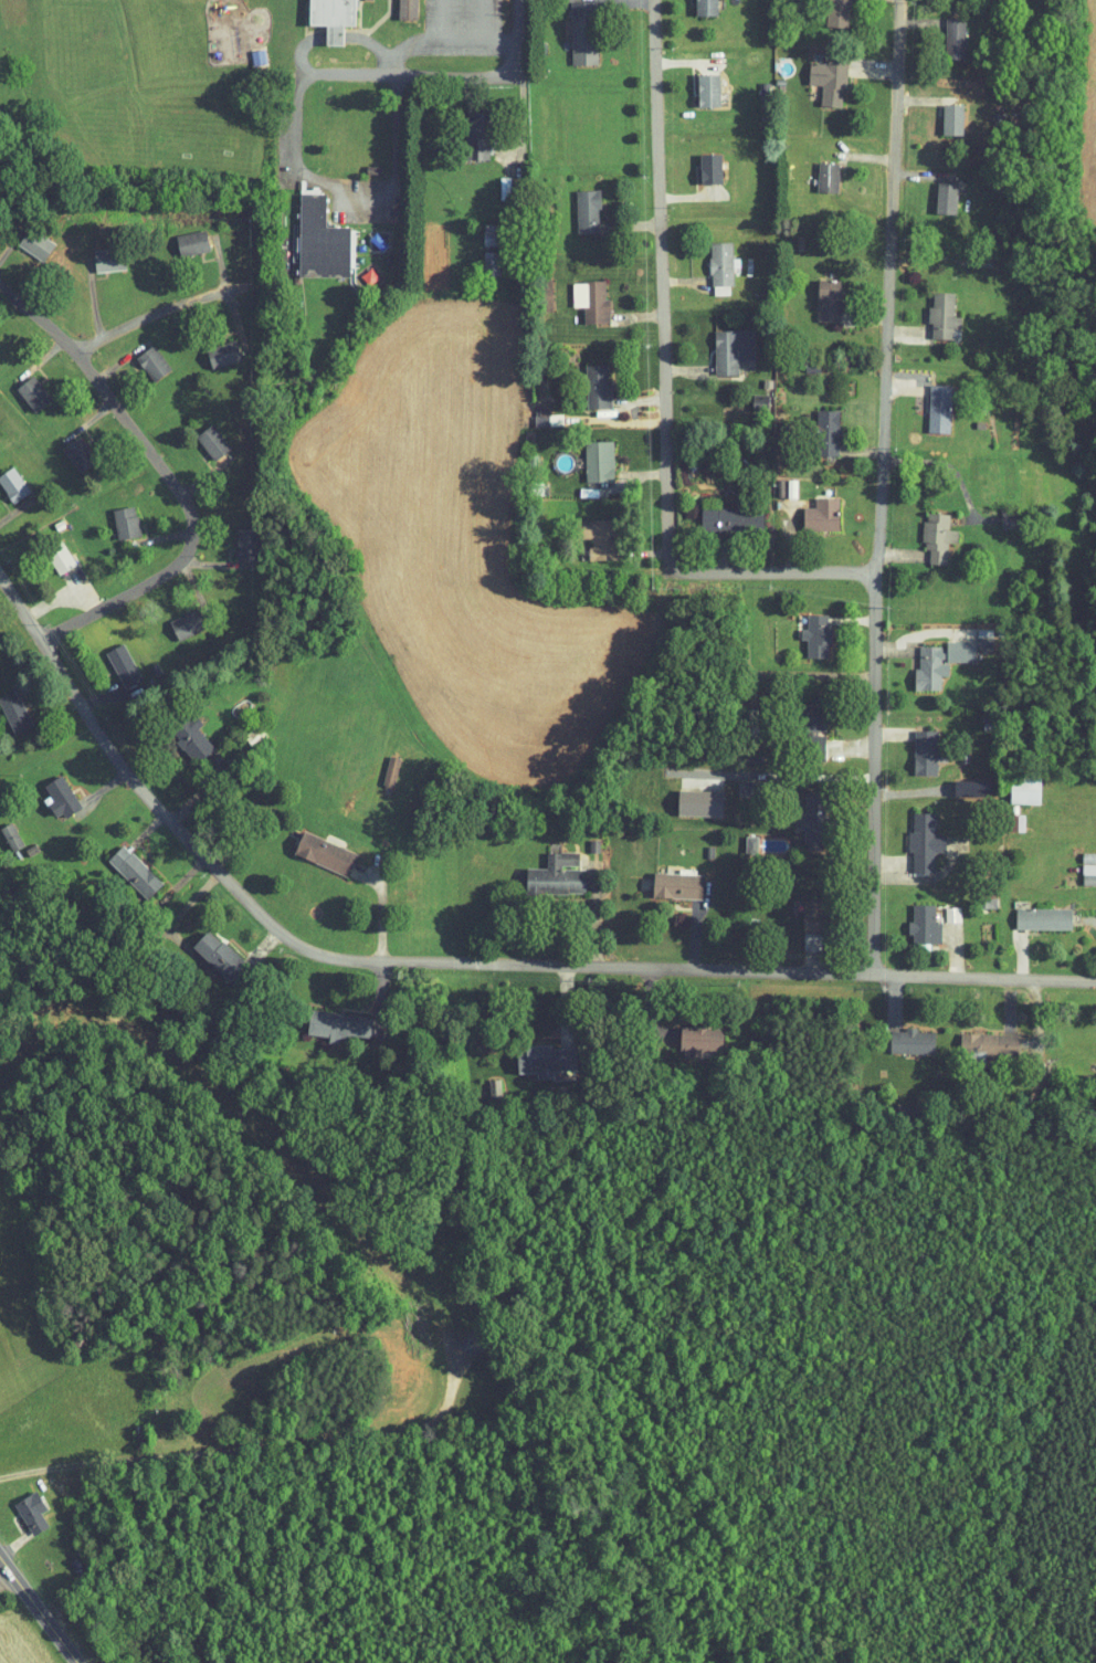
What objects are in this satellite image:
building: (695, 3)
building: (396, 6)
building: (826, 10)
road: (482, 18)
building: (336, 19)
road: (443, 19)
parking lot: (463, 25)
building: (571, 28)
building: (942, 31)
road: (335, 35)
road: (444, 36)
road: (516, 36)
building: (818, 73)
road: (455, 74)
building: (697, 84)
building: (940, 113)
building: (465, 129)
parking lot: (286, 148)
building: (699, 162)
building: (815, 170)
road: (315, 178)
building: (935, 191)
parking lot: (360, 201)
building: (576, 204)
building: (478, 228)
building: (180, 235)
building: (23, 238)
building: (324, 241)
building: (96, 253)
building: (481, 256)
building: (708, 262)
road: (876, 287)
building: (818, 294)
building: (579, 295)
building: (930, 308)
road: (162, 312)
building: (720, 344)
building: (211, 347)
building: (140, 357)
building: (586, 379)
road: (663, 380)
building: (21, 387)
building: (928, 402)
building: (534, 409)
building: (814, 425)
building: (200, 435)
building: (68, 448)
building: (587, 455)
road: (171, 480)
building: (6, 481)
building: (810, 508)
building: (719, 513)
building: (113, 516)
building: (926, 530)
building: (588, 531)
building: (236, 537)
building: (49, 554)
building: (175, 618)
building: (804, 629)
building: (928, 655)
building: (110, 659)
building: (7, 709)
building: (804, 711)
building: (180, 733)
building: (803, 739)
building: (913, 746)
building: (378, 765)
road: (862, 776)
building: (960, 782)
building: (1013, 785)
building: (49, 791)
building: (688, 797)
building: (802, 822)
building: (3, 833)
building: (738, 836)
building: (913, 836)
building: (313, 848)
building: (1078, 851)
building: (123, 865)
building: (1079, 867)
building: (545, 869)
building: (665, 880)
building: (803, 909)
building: (1031, 913)
building: (913, 919)
building: (204, 948)
road: (454, 965)
building: (326, 1018)
building: (688, 1031)
building: (900, 1035)
building: (976, 1039)
building: (531, 1053)
building: (19, 1505)
road: (33, 1618)

